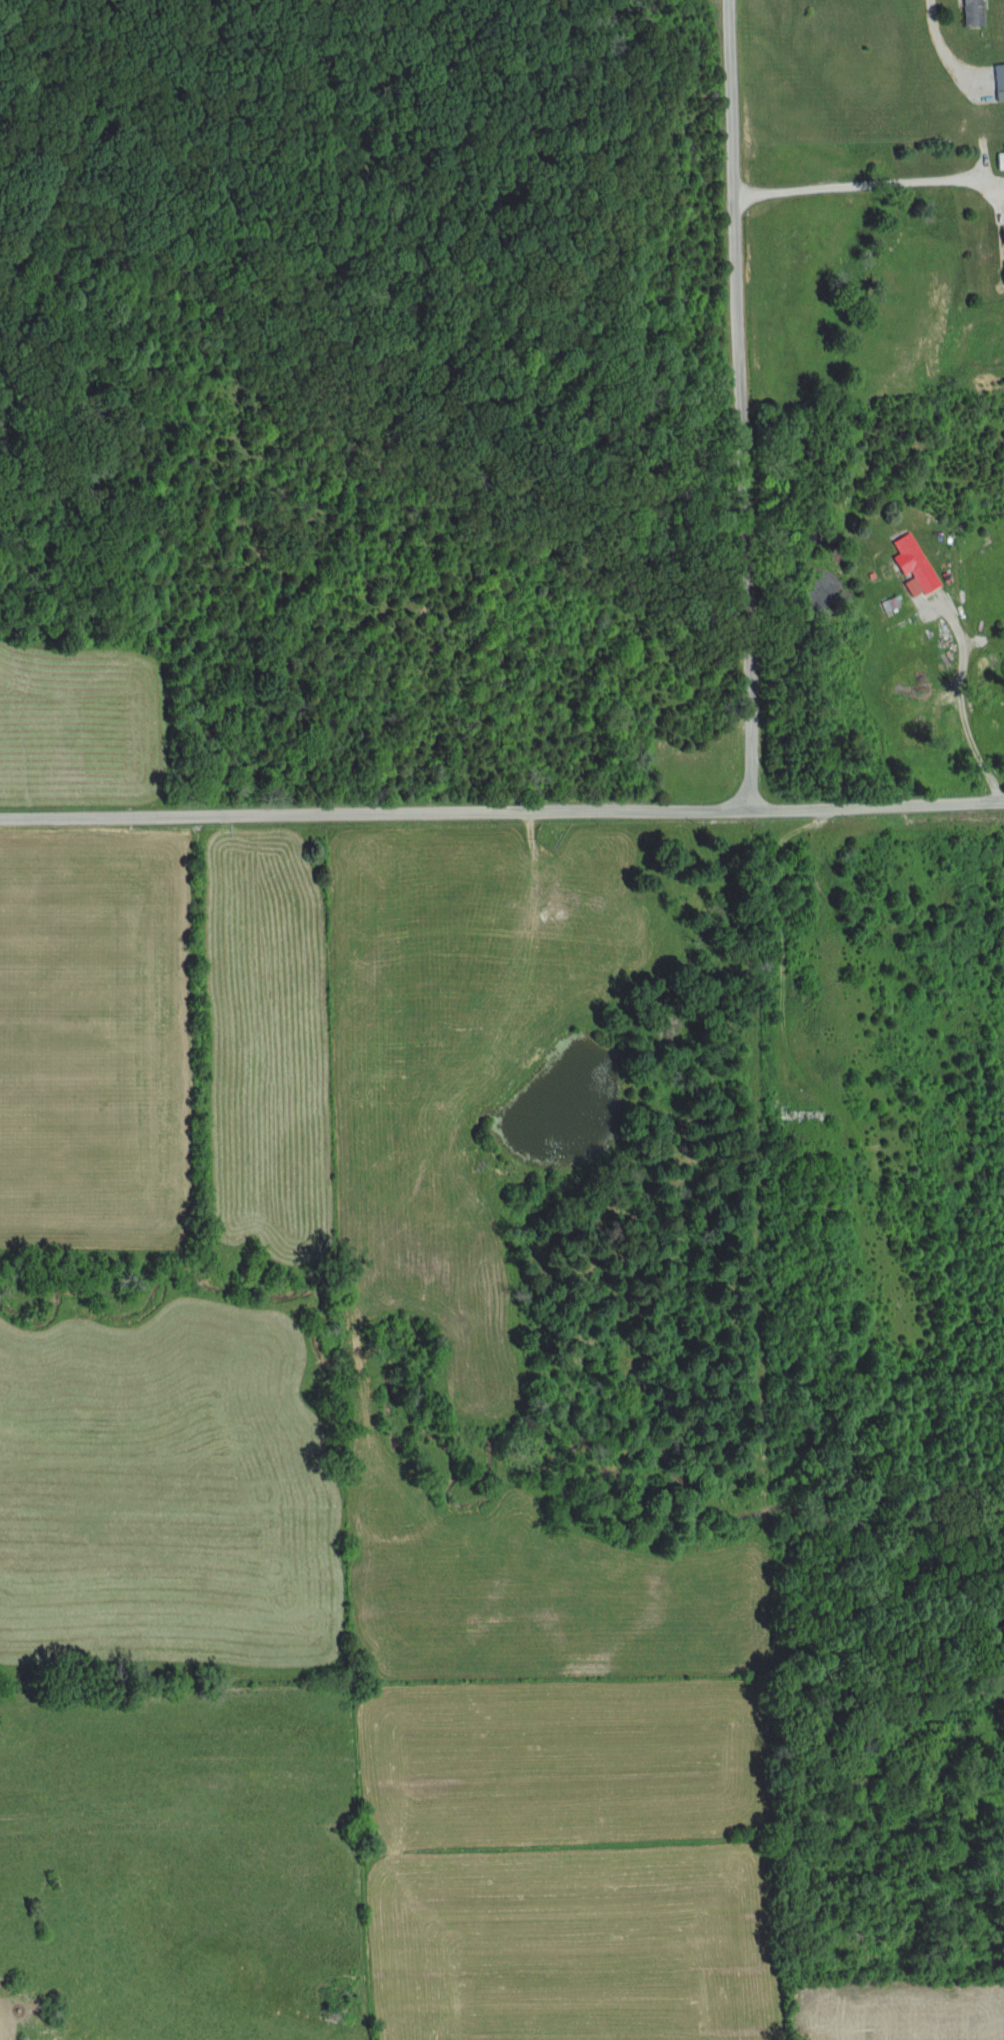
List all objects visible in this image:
building: (970, 13)
road: (935, 47)
building: (998, 82)
building: (999, 161)
road: (863, 183)
building: (1002, 236)
building: (1002, 272)
road: (731, 409)
building: (913, 563)
road: (968, 694)
road: (910, 803)
road: (408, 817)
road: (772, 935)
building: (799, 1115)

